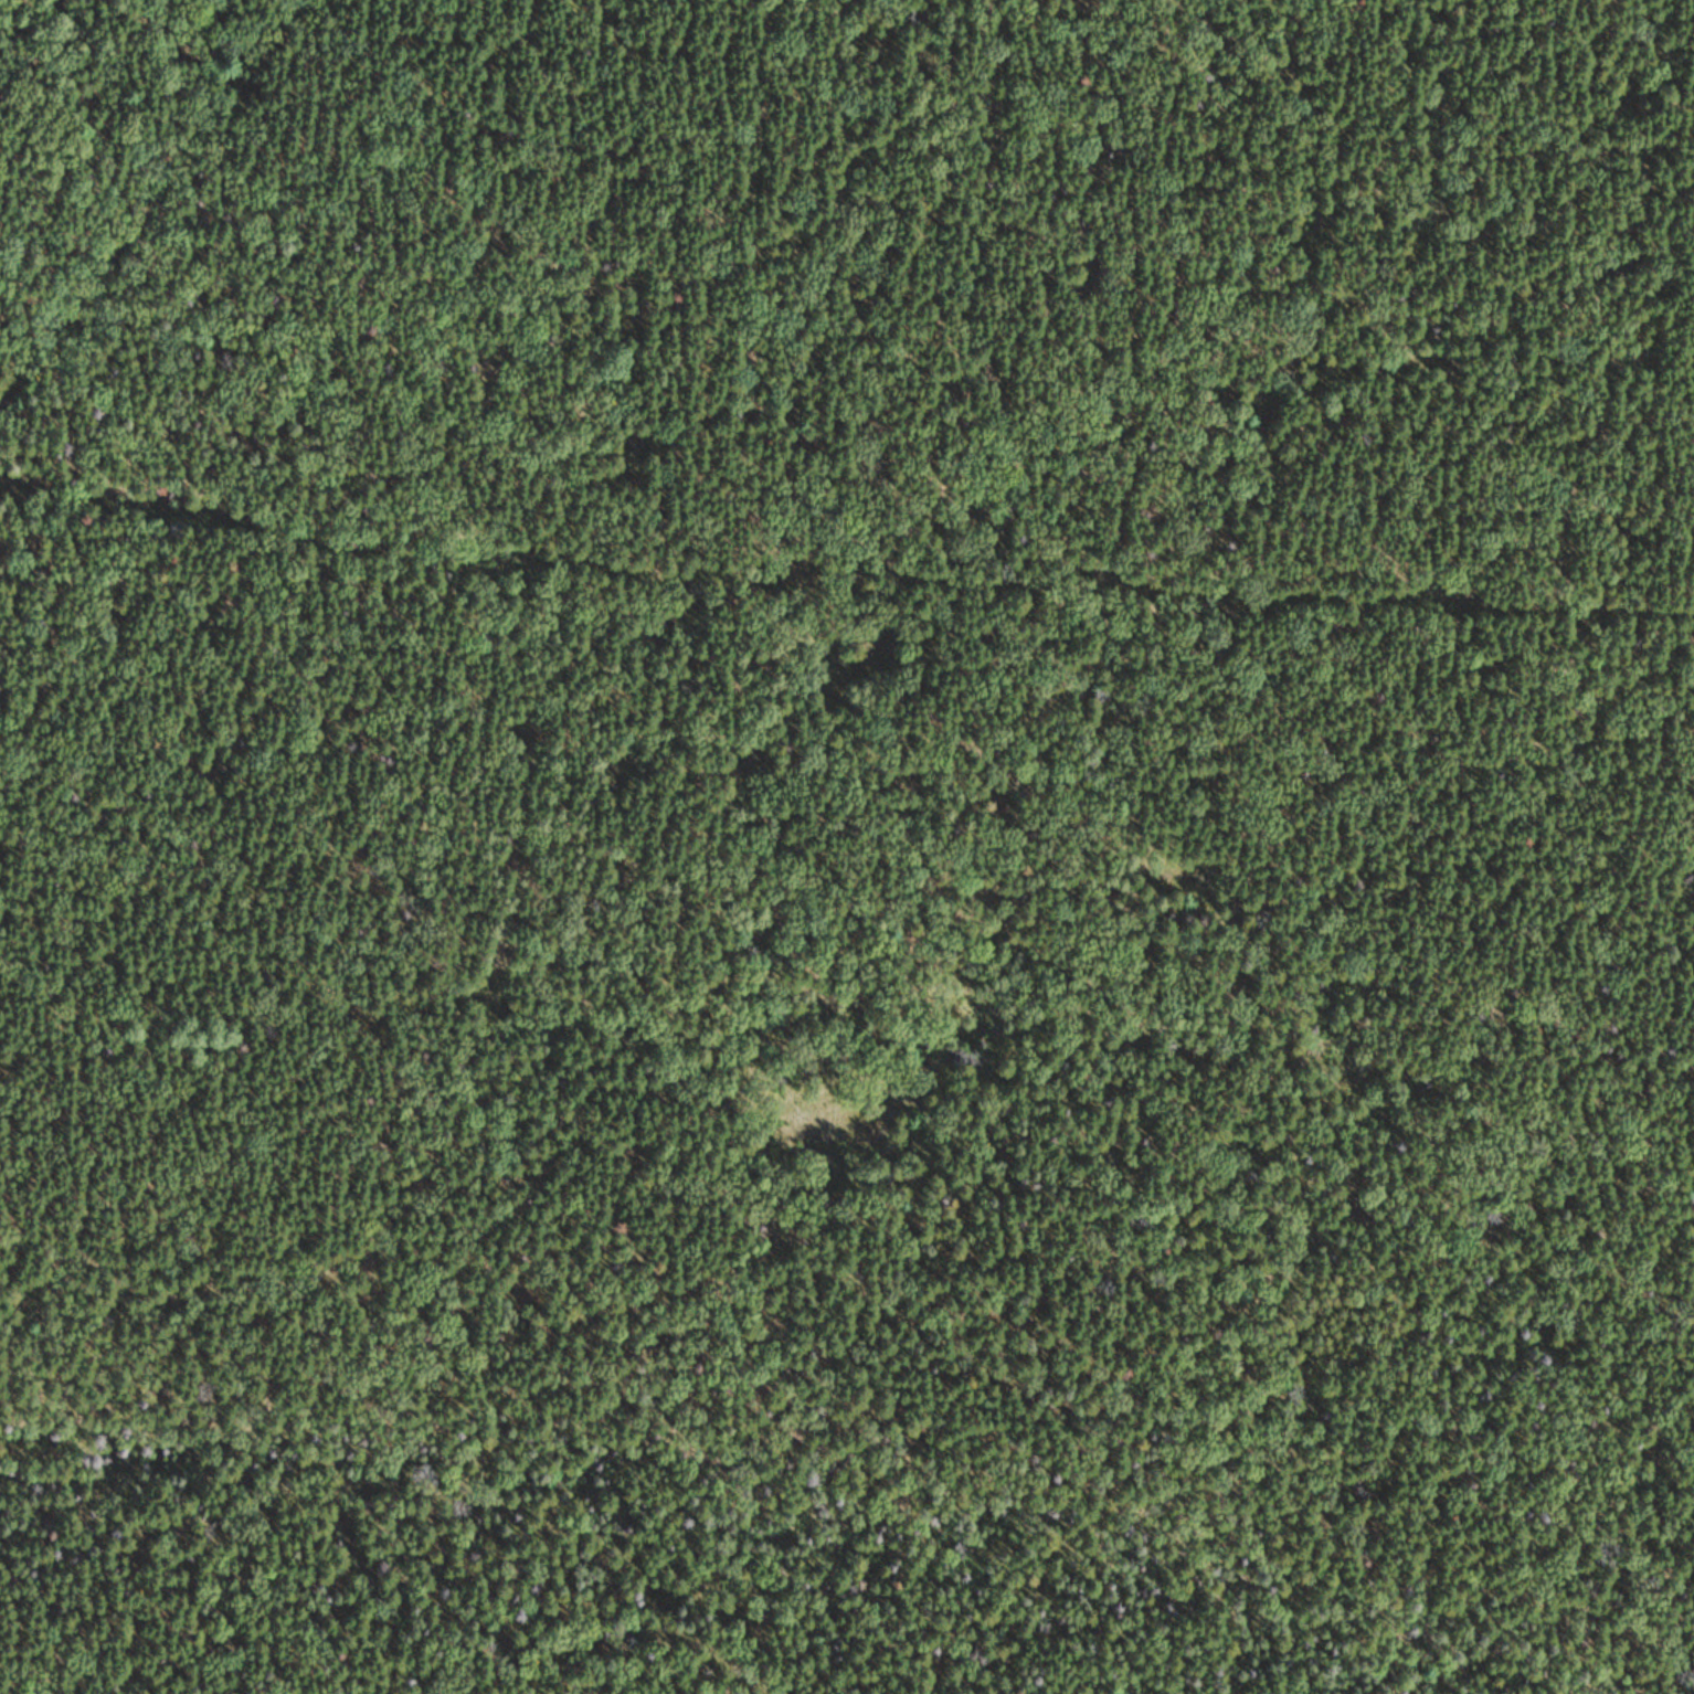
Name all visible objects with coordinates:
road: (148, 193)

